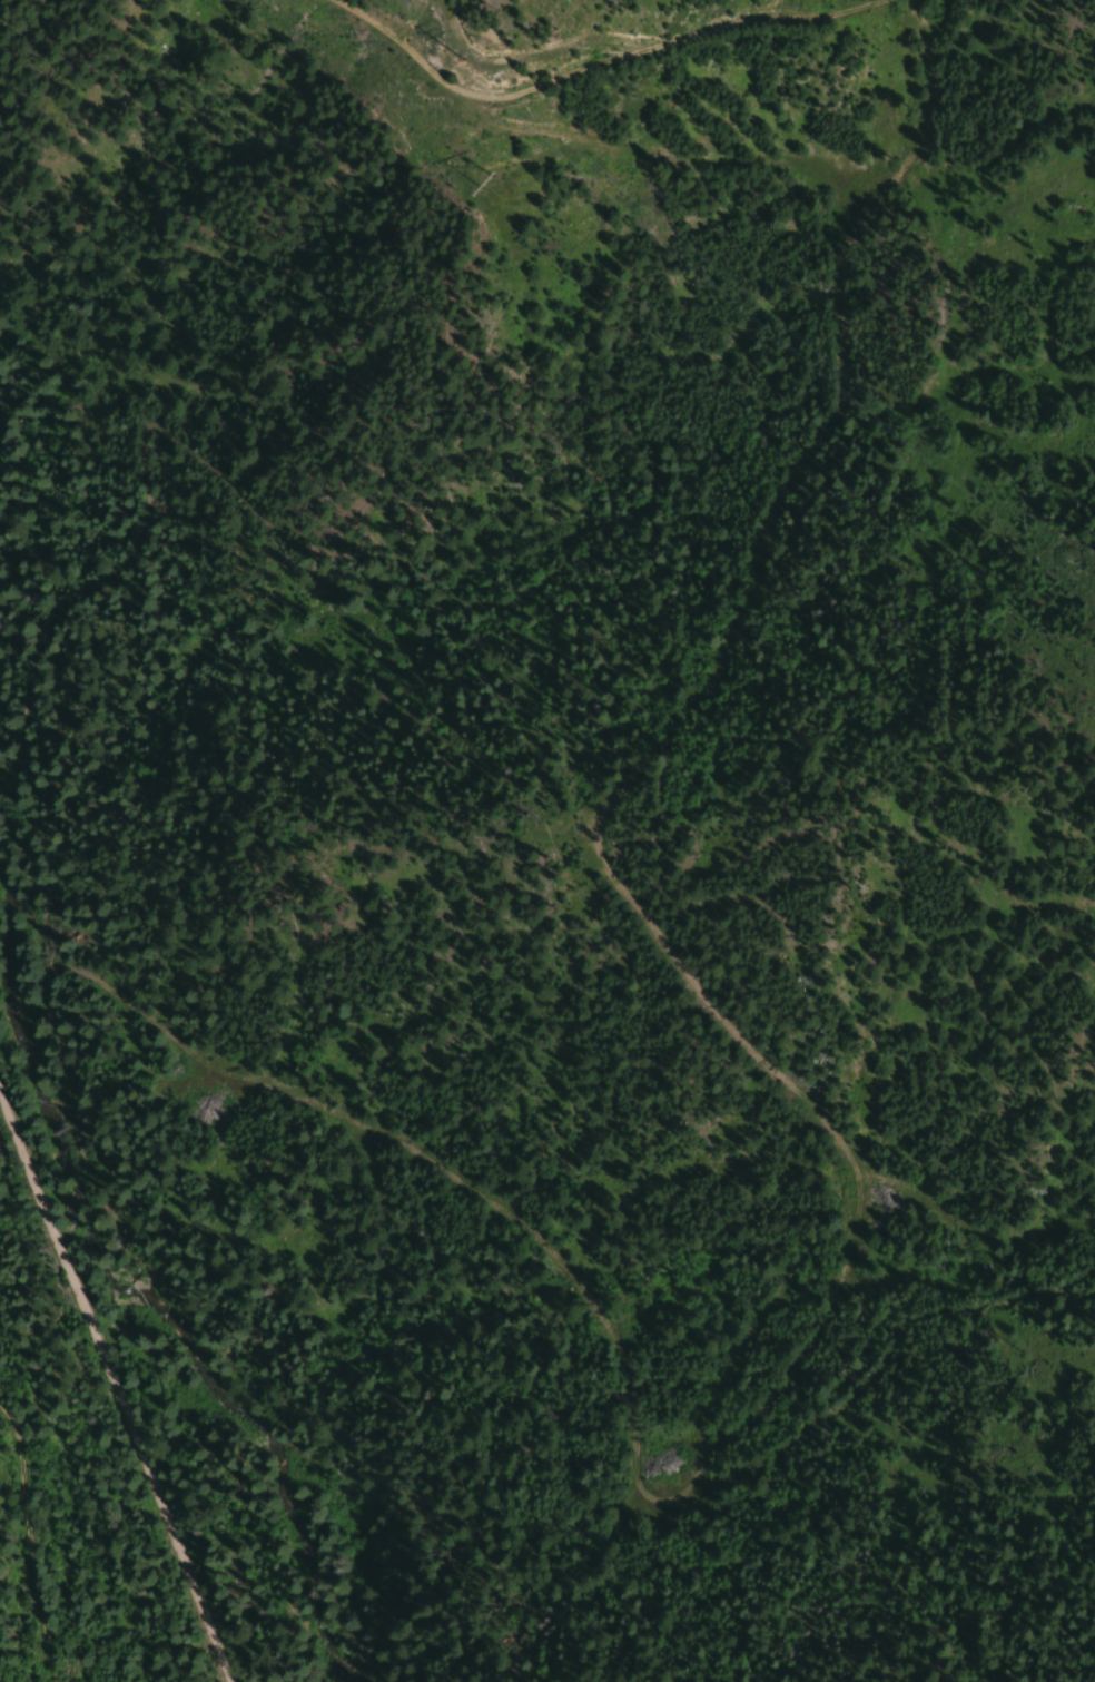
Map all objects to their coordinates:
power tower: (483, 181)
road: (114, 1398)

